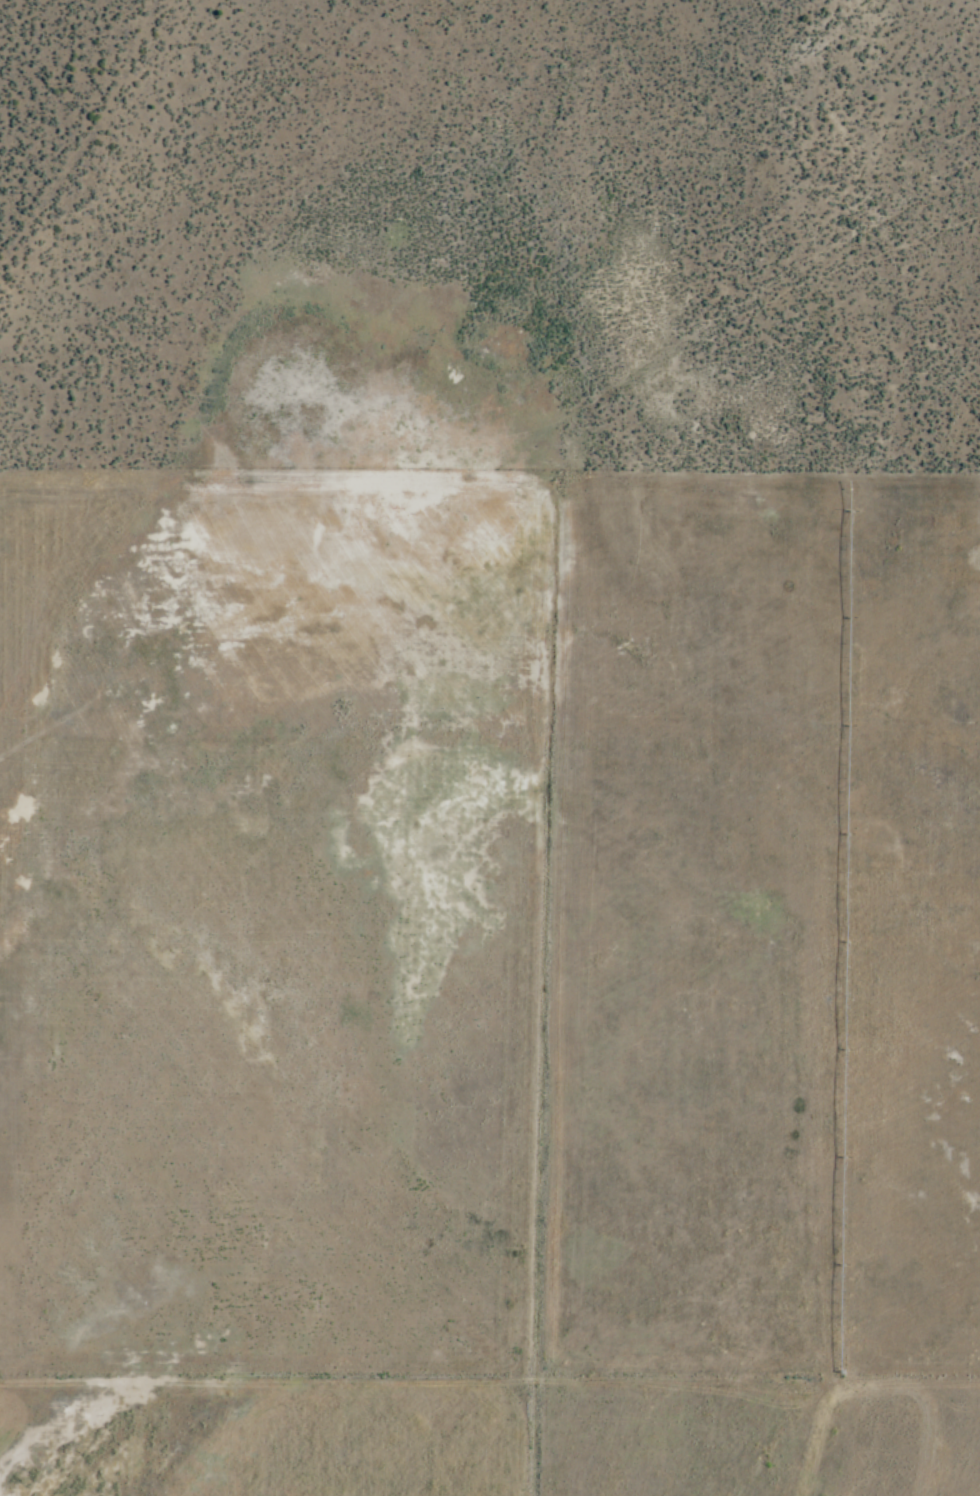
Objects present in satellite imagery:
road: (701, 1377)

